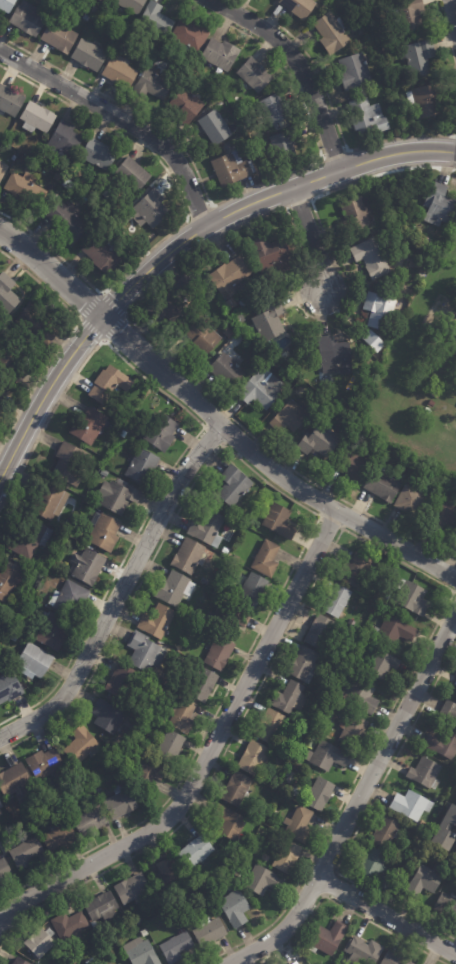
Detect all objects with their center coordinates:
building: (103, 1)
building: (7, 5)
building: (130, 5)
building: (298, 7)
road: (452, 13)
building: (410, 15)
building: (86, 18)
building: (27, 20)
building: (156, 21)
building: (331, 34)
building: (189, 37)
building: (59, 38)
road: (449, 39)
building: (89, 55)
building: (221, 55)
building: (139, 57)
building: (418, 58)
road: (298, 66)
building: (120, 73)
building: (354, 73)
building: (255, 75)
building: (153, 86)
building: (426, 101)
building: (10, 102)
building: (187, 107)
building: (274, 110)
road: (333, 110)
building: (37, 119)
road: (122, 119)
building: (367, 119)
building: (215, 128)
building: (65, 142)
building: (282, 143)
road: (333, 153)
building: (99, 155)
building: (232, 170)
building: (3, 172)
building: (133, 175)
building: (57, 178)
road: (317, 179)
building: (69, 186)
road: (336, 189)
building: (27, 192)
road: (237, 192)
road: (299, 203)
road: (209, 206)
building: (440, 206)
building: (152, 210)
road: (185, 214)
building: (356, 214)
building: (68, 222)
road: (311, 238)
road: (177, 242)
building: (104, 254)
building: (272, 256)
building: (372, 258)
building: (230, 277)
building: (6, 293)
building: (173, 303)
building: (230, 304)
building: (380, 310)
road: (79, 319)
building: (270, 321)
building: (36, 322)
building: (229, 333)
building: (243, 335)
building: (203, 336)
road: (65, 337)
building: (374, 341)
building: (302, 344)
road: (156, 345)
building: (334, 356)
building: (239, 359)
building: (286, 359)
building: (272, 361)
building: (10, 363)
building: (227, 370)
building: (110, 384)
building: (259, 389)
building: (3, 399)
building: (432, 404)
building: (332, 415)
building: (290, 419)
road: (215, 421)
building: (89, 425)
road: (203, 427)
building: (162, 432)
building: (123, 434)
road: (190, 441)
building: (320, 441)
building: (362, 442)
building: (70, 464)
building: (142, 466)
building: (354, 468)
building: (101, 476)
building: (383, 485)
building: (234, 486)
building: (118, 496)
building: (50, 501)
building: (414, 502)
building: (444, 513)
building: (280, 521)
road: (316, 521)
road: (341, 528)
building: (208, 529)
building: (104, 532)
road: (354, 535)
building: (30, 538)
building: (189, 556)
building: (267, 559)
building: (88, 567)
building: (357, 571)
building: (230, 577)
building: (9, 582)
building: (176, 589)
building: (253, 590)
road: (120, 592)
building: (387, 597)
building: (413, 598)
building: (69, 599)
building: (337, 602)
building: (16, 608)
building: (192, 616)
building: (229, 616)
building: (158, 622)
building: (52, 631)
building: (395, 631)
building: (320, 632)
building: (348, 634)
building: (14, 637)
building: (145, 653)
building: (220, 654)
building: (34, 662)
building: (381, 664)
building: (304, 665)
building: (205, 682)
building: (119, 684)
building: (455, 684)
building: (9, 688)
building: (360, 696)
building: (290, 699)
building: (335, 705)
building: (449, 710)
building: (182, 716)
building: (108, 717)
building: (270, 727)
building: (353, 731)
building: (444, 745)
building: (80, 746)
building: (170, 748)
road: (207, 754)
building: (328, 757)
building: (254, 759)
building: (45, 769)
building: (148, 771)
building: (425, 775)
building: (16, 784)
building: (237, 790)
building: (320, 795)
building: (121, 802)
road: (356, 802)
building: (1, 805)
building: (411, 806)
building: (1, 809)
building: (0, 814)
road: (362, 818)
building: (90, 821)
building: (230, 823)
building: (299, 825)
building: (446, 831)
building: (388, 833)
building: (59, 838)
building: (25, 852)
building: (197, 853)
building: (287, 858)
building: (455, 858)
building: (228, 865)
building: (373, 865)
building: (4, 870)
road: (334, 871)
building: (167, 878)
building: (262, 880)
building: (426, 882)
building: (385, 883)
building: (132, 889)
building: (447, 905)
road: (341, 906)
building: (101, 908)
building: (235, 909)
road: (386, 916)
building: (140, 922)
building: (70, 927)
building: (210, 932)
building: (49, 933)
building: (145, 933)
building: (329, 940)
building: (38, 943)
building: (176, 948)
building: (365, 952)
building: (141, 953)
building: (394, 959)
building: (19, 962)
building: (91, 962)
building: (116, 963)
building: (296, 963)

